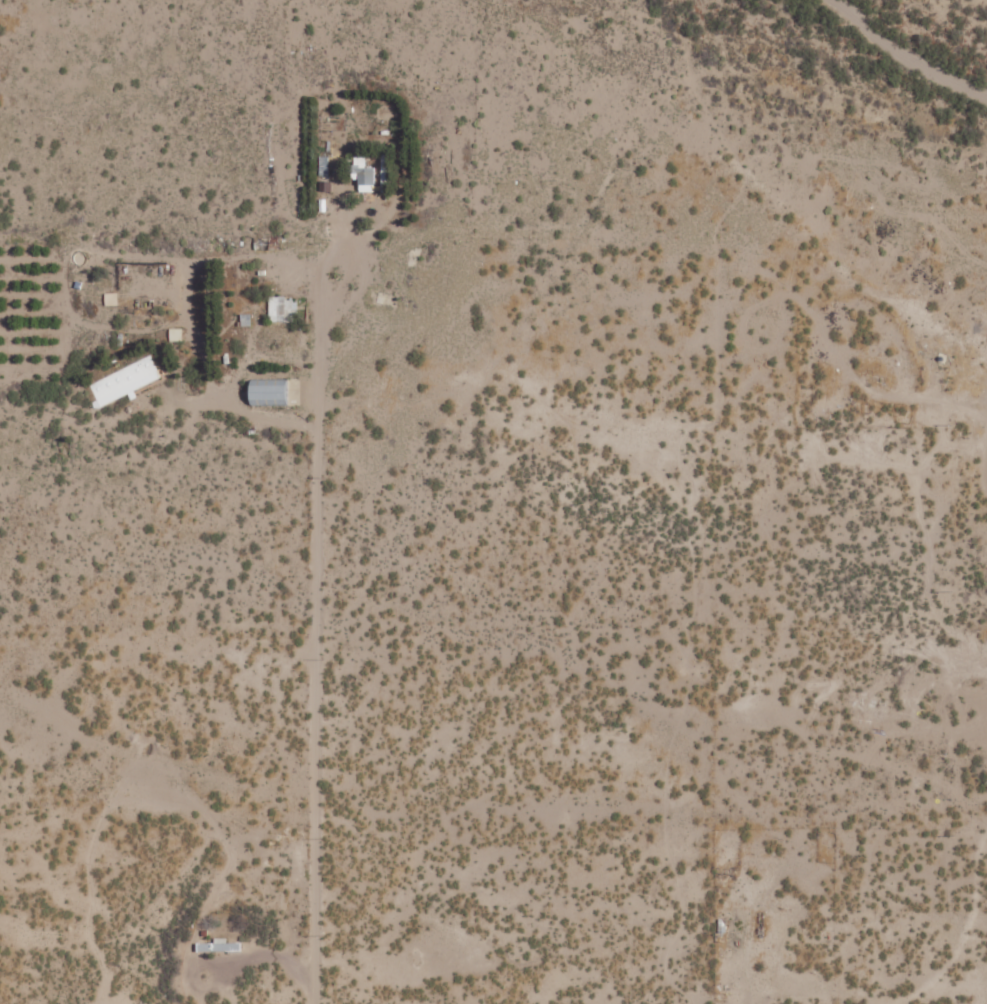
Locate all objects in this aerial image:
river: (873, 16)
river: (955, 57)
building: (363, 175)
road: (336, 259)
building: (282, 309)
building: (125, 380)
building: (267, 392)
road: (319, 668)
building: (218, 945)

